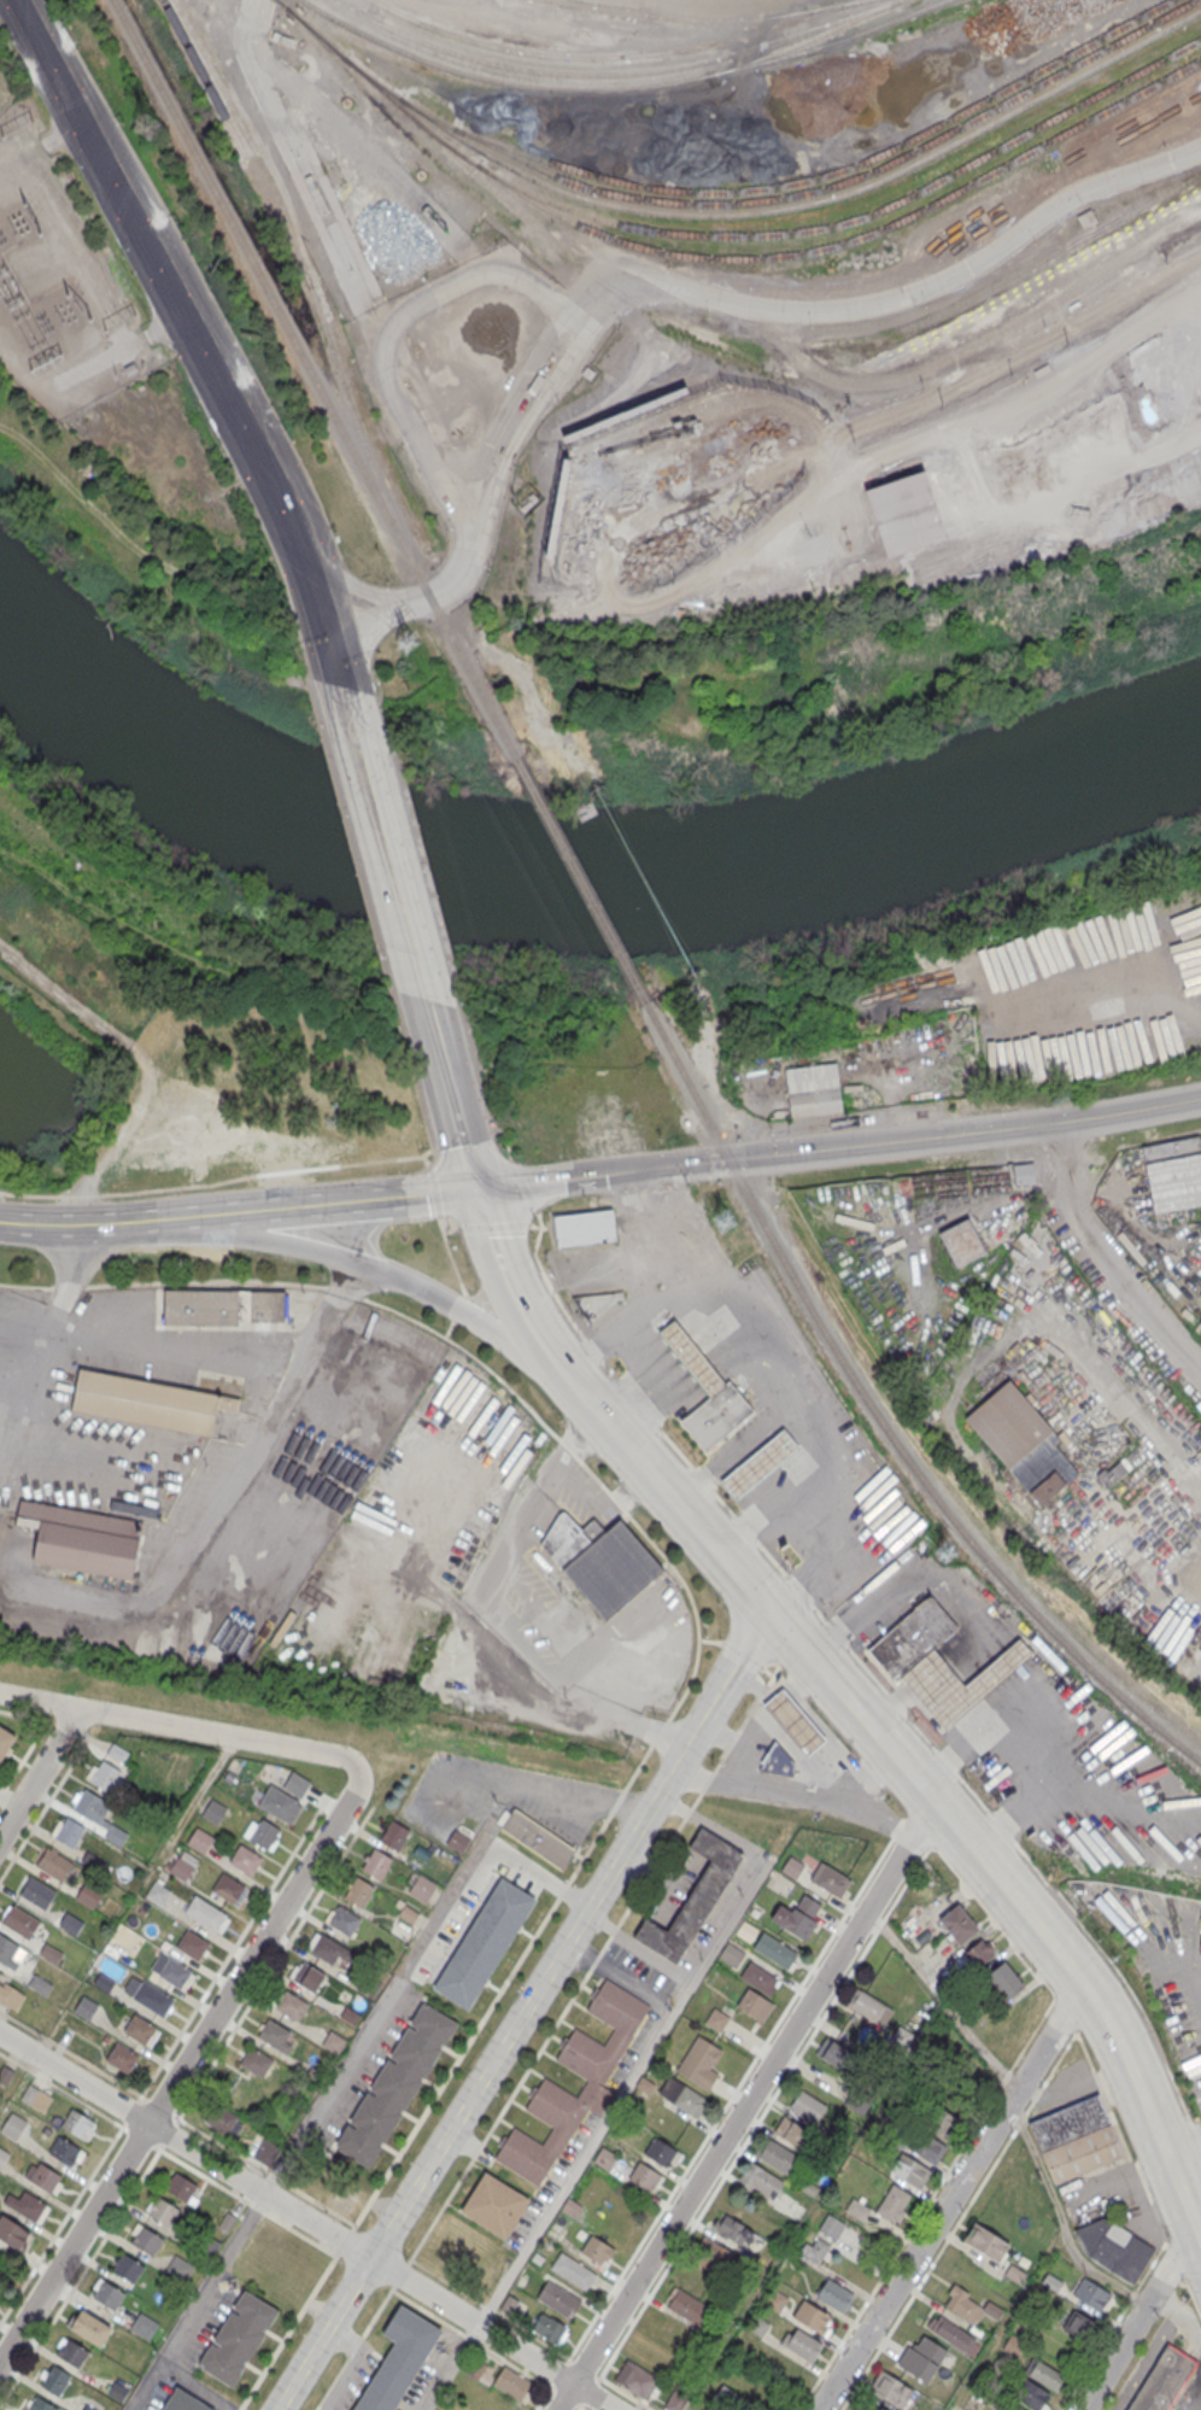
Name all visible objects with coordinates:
railway: (547, 0)
railway: (702, 22)
railway: (803, 42)
railway: (795, 55)
railway: (620, 57)
road: (253, 59)
railway: (457, 70)
railway: (616, 75)
power tower: (143, 130)
railway: (239, 142)
road: (40, 145)
road: (370, 158)
railway: (808, 192)
railway: (731, 215)
railway: (853, 220)
road: (88, 242)
railway: (813, 250)
road: (150, 253)
power substation: (59, 280)
railway: (309, 280)
road: (900, 298)
road: (389, 335)
railway: (743, 340)
road: (122, 346)
road: (972, 375)
railway: (315, 378)
road: (1009, 402)
road: (508, 433)
building: (904, 516)
road: (286, 523)
road: (345, 580)
road: (310, 586)
road: (368, 621)
traffic signals: (326, 634)
power tower: (406, 639)
road: (334, 662)
road: (317, 710)
road: (383, 836)
road: (353, 843)
river: (575, 882)
railway: (581, 885)
park: (481, 950)
road: (432, 1020)
building: (859, 1086)
building: (820, 1092)
road: (450, 1109)
road: (837, 1147)
road: (509, 1150)
traffic signals: (749, 1158)
road: (426, 1160)
traffic signals: (707, 1163)
road: (326, 1166)
building: (1024, 1171)
road: (464, 1174)
building: (1173, 1174)
road: (525, 1186)
traffic signals: (473, 1191)
road: (433, 1192)
road: (351, 1204)
power tower: (723, 1221)
road: (115, 1224)
building: (585, 1228)
building: (961, 1242)
road: (497, 1253)
road: (451, 1256)
road: (1106, 1256)
road: (611, 1257)
road: (205, 1280)
road: (25, 1283)
road: (69, 1285)
road: (412, 1288)
road: (342, 1289)
road: (680, 1292)
building: (596, 1303)
building: (224, 1308)
road: (459, 1308)
road: (616, 1326)
road: (450, 1329)
road: (541, 1341)
road: (715, 1350)
road: (469, 1351)
building: (691, 1359)
road: (697, 1365)
road: (570, 1380)
building: (224, 1386)
road: (772, 1396)
road: (585, 1398)
road: (651, 1402)
building: (145, 1403)
building: (717, 1416)
railway: (880, 1421)
road: (256, 1434)
road: (617, 1437)
building: (1024, 1443)
road: (568, 1447)
road: (728, 1456)
building: (760, 1464)
building: (1113, 1472)
road: (773, 1507)
building: (81, 1539)
road: (707, 1542)
road: (842, 1546)
power tower: (944, 1552)
building: (600, 1562)
road: (908, 1584)
road: (491, 1595)
traffic signals: (771, 1616)
building: (912, 1638)
road: (710, 1640)
road: (785, 1651)
road: (742, 1654)
road: (1013, 1657)
road: (815, 1666)
road: (767, 1671)
road: (871, 1673)
building: (959, 1683)
road: (726, 1696)
building: (793, 1722)
road: (182, 1728)
road: (34, 1735)
road: (976, 1735)
building: (5, 1739)
road: (839, 1748)
building: (116, 1754)
road: (897, 1759)
building: (777, 1762)
road: (1050, 1770)
road: (39, 1773)
building: (105, 1777)
building: (297, 1784)
road: (537, 1792)
road: (699, 1794)
parking lot: (500, 1798)
road: (198, 1801)
road: (326, 1801)
road: (46, 1803)
building: (215, 1812)
building: (94, 1813)
road: (711, 1826)
building: (69, 1832)
building: (263, 1832)
road: (915, 1835)
building: (394, 1836)
building: (538, 1838)
building: (200, 1839)
building: (458, 1842)
road: (591, 1843)
building: (246, 1859)
building: (53, 1864)
building: (376, 1865)
building: (181, 1867)
building: (830, 1879)
road: (906, 1883)
building: (228, 1887)
building: (422, 1889)
building: (36, 1891)
building: (157, 1891)
building: (358, 1893)
building: (88, 1894)
building: (693, 1896)
building: (205, 1912)
building: (797, 1915)
building: (344, 1919)
road: (991, 1919)
building: (20, 1920)
road: (880, 1924)
building: (957, 1924)
road: (614, 1930)
building: (485, 1942)
building: (193, 1943)
road: (604, 1943)
building: (7, 1948)
building: (775, 1949)
road: (232, 1950)
building: (332, 1950)
building: (51, 1953)
building: (980, 1953)
building: (731, 1954)
road: (593, 1960)
road: (273, 1964)
road: (409, 1965)
building: (0, 1972)
building: (175, 1972)
building: (309, 1977)
building: (760, 1978)
building: (1004, 1981)
building: (40, 1984)
building: (11, 1994)
building: (152, 1997)
road: (1054, 1999)
road: (944, 2000)
road: (1094, 2000)
building: (292, 2005)
building: (754, 2005)
building: (86, 2007)
building: (871, 2007)
road: (1065, 2014)
building: (716, 2019)
building: (139, 2029)
road: (1032, 2034)
building: (275, 2035)
building: (902, 2038)
road: (72, 2055)
building: (122, 2055)
building: (838, 2055)
building: (257, 2061)
building: (698, 2061)
road: (182, 2070)
road: (1006, 2076)
building: (594, 2082)
building: (394, 2084)
road: (63, 2090)
road: (475, 2090)
road: (734, 2090)
road: (1103, 2095)
building: (682, 2096)
building: (807, 2106)
road: (159, 2107)
road: (744, 2107)
road: (130, 2111)
road: (498, 2116)
building: (222, 2118)
building: (941, 2121)
building: (1068, 2122)
building: (77, 2123)
building: (13, 2125)
building: (791, 2133)
road: (168, 2134)
road: (593, 2134)
road: (140, 2137)
road: (1182, 2141)
building: (925, 2146)
building: (64, 2149)
building: (266, 2152)
building: (661, 2152)
building: (1082, 2152)
building: (2, 2155)
road: (736, 2157)
building: (777, 2157)
building: (605, 2159)
road: (263, 2170)
building: (910, 2171)
building: (42, 2175)
building: (645, 2177)
building: (760, 2180)
road: (1142, 2181)
building: (181, 2186)
road: (951, 2199)
road: (244, 2200)
building: (25, 2204)
building: (494, 2204)
building: (895, 2204)
building: (163, 2210)
road: (306, 2219)
road: (61, 2221)
road: (957, 2221)
road: (1159, 2222)
building: (831, 2225)
building: (733, 2230)
building: (12, 2233)
road: (1199, 2236)
building: (146, 2239)
road: (342, 2240)
building: (985, 2241)
building: (210, 2245)
building: (1113, 2246)
road: (901, 2247)
building: (815, 2248)
building: (598, 2252)
building: (711, 2253)
road: (1177, 2260)
building: (128, 2266)
building: (573, 2271)
road: (322, 2272)
road: (402, 2274)
road: (80, 2275)
building: (107, 2293)
building: (1091, 2293)
building: (834, 2294)
road: (1193, 2295)
building: (560, 2300)
road: (195, 2301)
road: (304, 2301)
road: (1167, 2304)
building: (509, 2305)
building: (969, 2305)
building: (687, 2306)
road: (491, 2309)
building: (813, 2317)
road: (1137, 2320)
building: (143, 2324)
building: (1079, 2324)
road: (1113, 2324)
building: (90, 2328)
building: (549, 2328)
building: (668, 2329)
building: (954, 2335)
building: (239, 2336)
road: (471, 2339)
building: (801, 2342)
road: (355, 2346)
building: (72, 2352)
building: (921, 2358)
road: (269, 2359)
building: (398, 2359)
road: (1144, 2365)
road: (584, 2367)
road: (558, 2373)
building: (1045, 2373)
building: (637, 2380)
building: (1162, 2380)
building: (54, 2381)
building: (514, 2382)
road: (195, 2386)
building: (891, 2388)
road: (590, 2392)
road: (623, 2392)
building: (1030, 2393)
road: (543, 2397)
road: (564, 2397)
building: (186, 2402)
building: (41, 2404)
road: (580, 2406)
road: (581, 2406)
building: (88, 2409)

